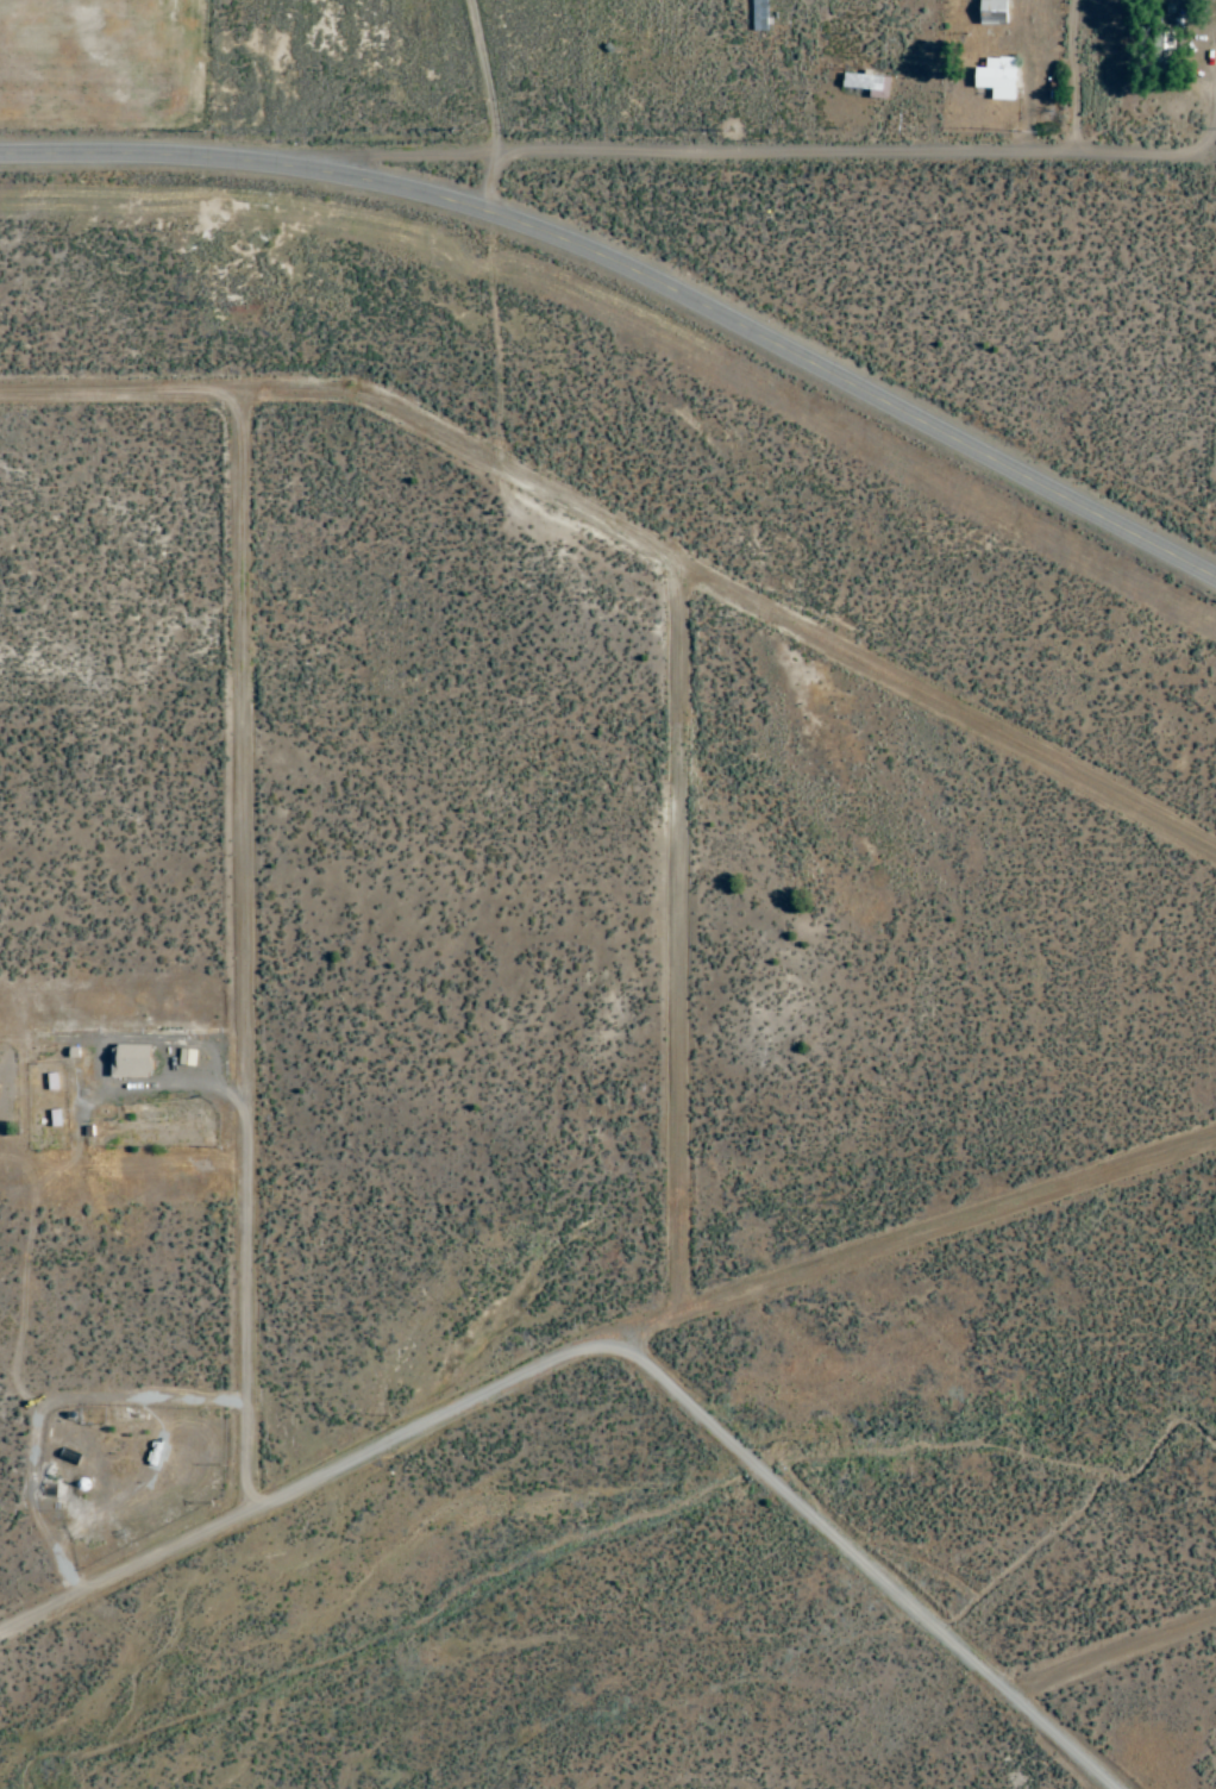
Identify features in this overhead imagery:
building: (995, 11)
building: (998, 77)
road: (201, 79)
building: (869, 83)
road: (495, 107)
road: (751, 154)
road: (637, 270)
road: (629, 538)
road: (685, 944)
road: (243, 956)
building: (132, 1062)
building: (56, 1119)
road: (590, 1350)
road: (866, 1565)
road: (1117, 1664)

